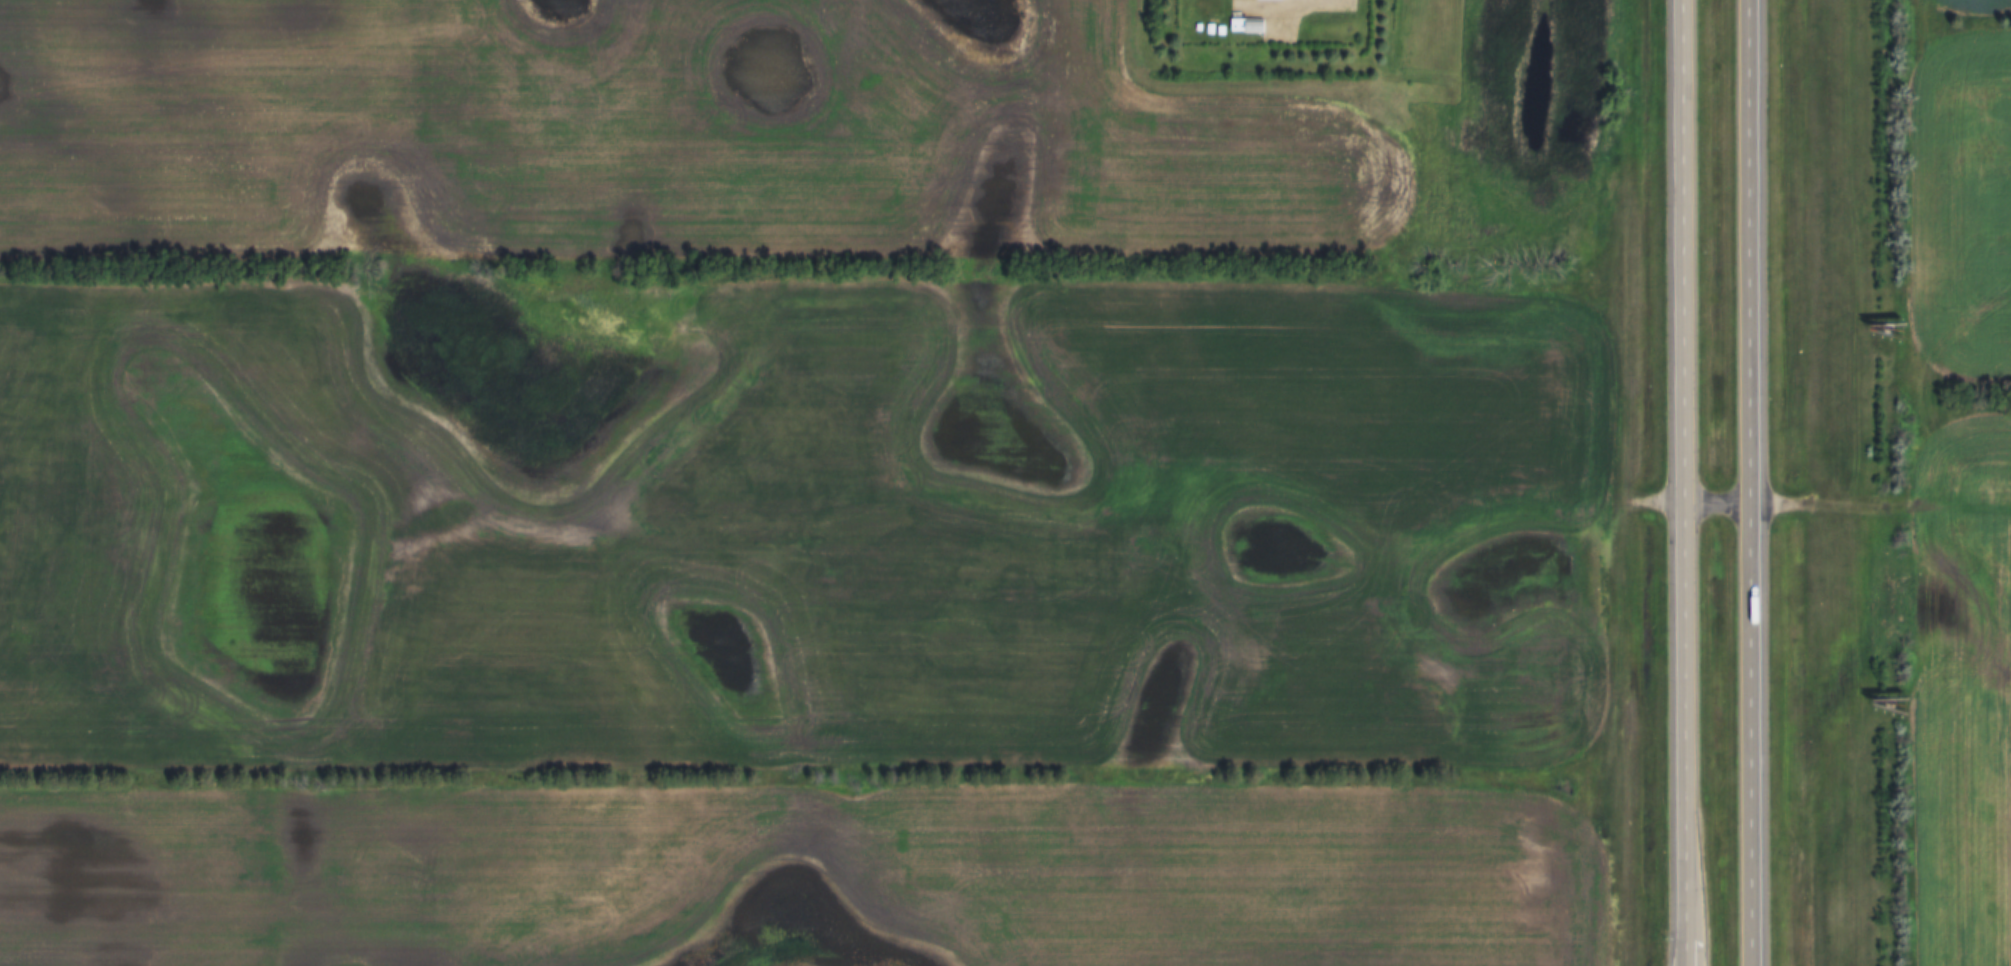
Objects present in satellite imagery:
building: (1267, 0)
building: (1245, 25)
road: (1754, 482)
road: (1919, 482)
road: (1687, 483)
road: (1883, 498)

